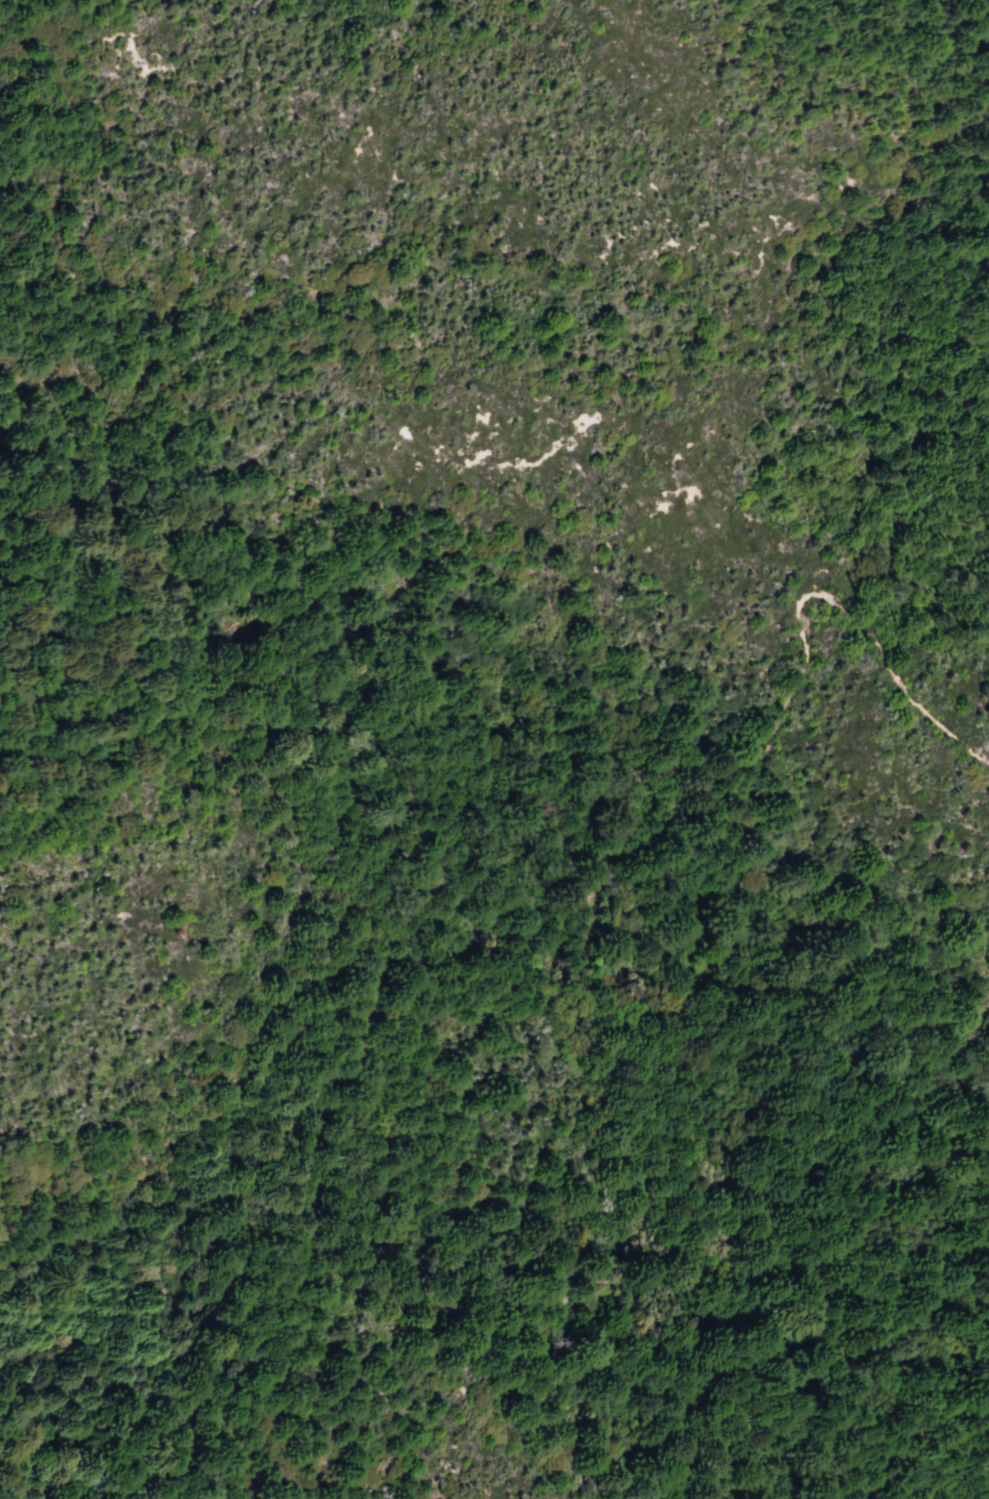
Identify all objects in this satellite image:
road: (842, 610)

